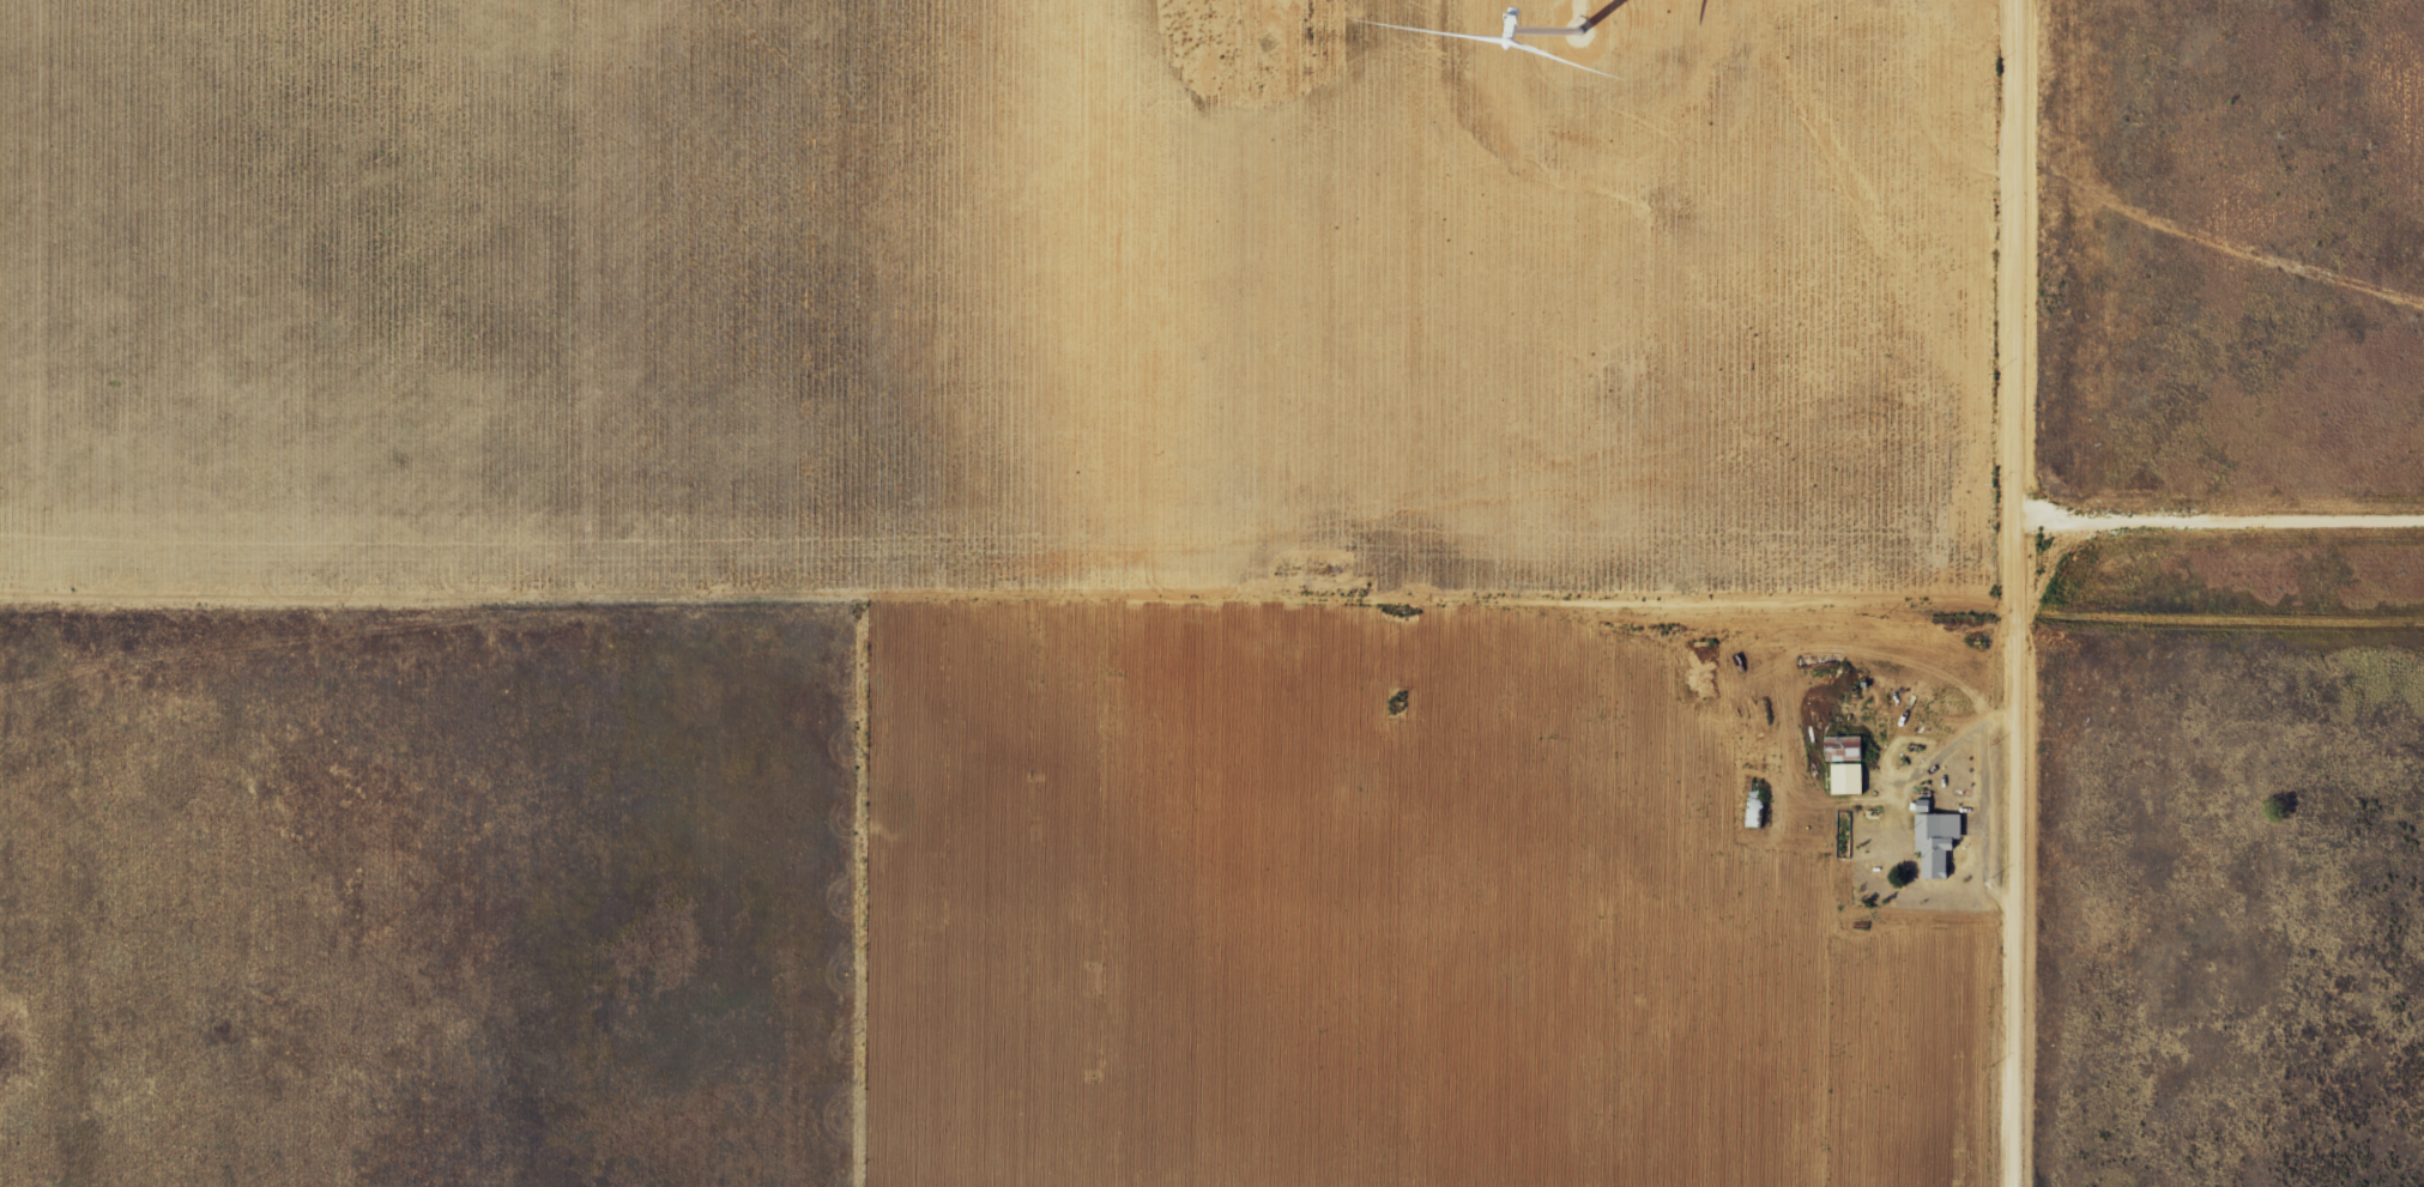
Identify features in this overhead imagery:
wind turbine: (1576, 36)
road: (2063, 596)
road: (2243, 612)
building: (1794, 629)
building: (1740, 721)
building: (1839, 750)
road: (1934, 762)
building: (1843, 779)
building: (1751, 805)
road: (1984, 809)
building: (1928, 847)

